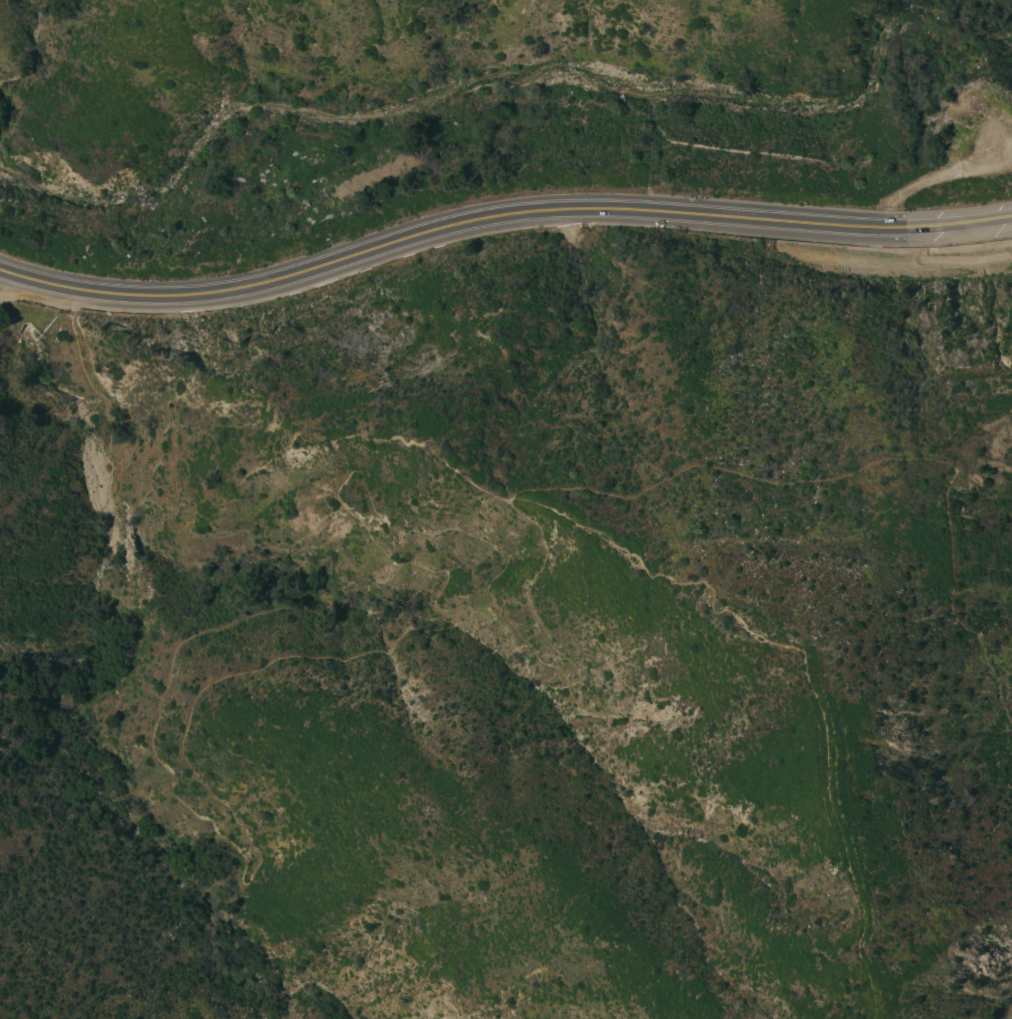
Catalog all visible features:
road: (508, 213)
road: (831, 223)
road: (187, 295)
parking lot: (34, 302)
road: (387, 647)
road: (801, 679)

